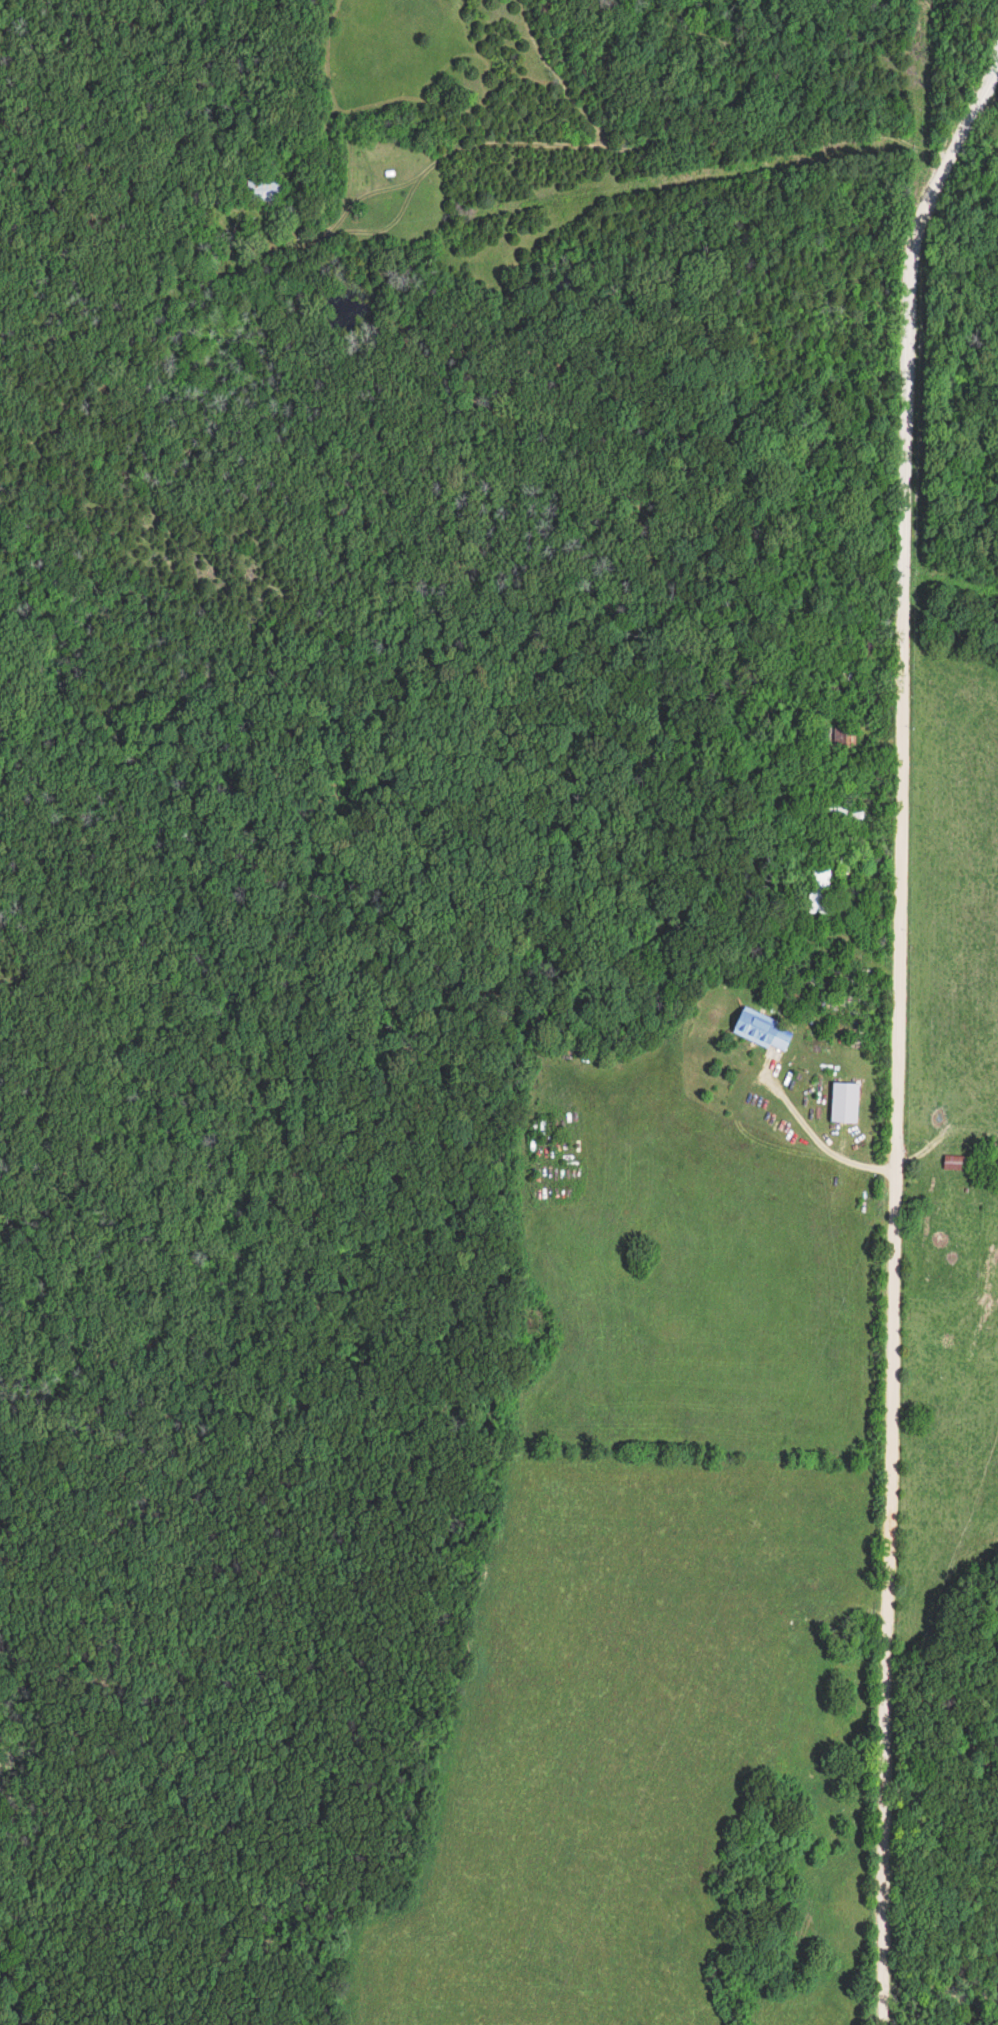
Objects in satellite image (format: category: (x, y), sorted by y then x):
building: (762, 1030)
road: (897, 1040)
building: (847, 1104)

